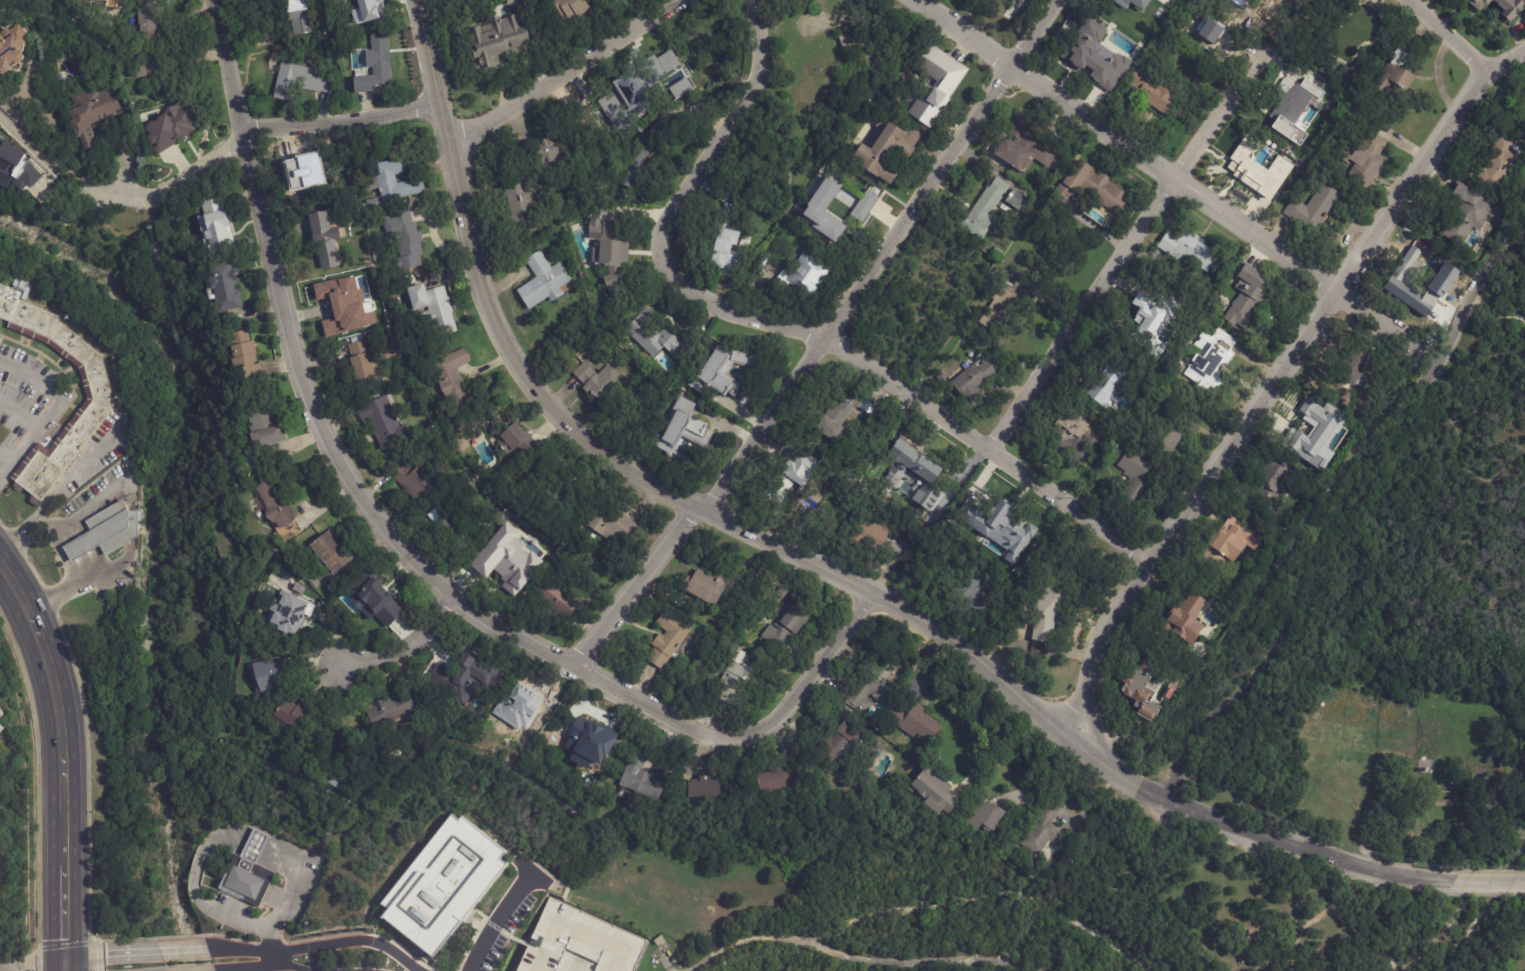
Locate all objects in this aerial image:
building: (343, 0)
building: (1268, 0)
building: (1478, 3)
building: (368, 6)
building: (1130, 6)
building: (1011, 8)
building: (1510, 8)
building: (571, 9)
building: (298, 16)
building: (147, 21)
road: (1447, 35)
building: (495, 43)
building: (852, 47)
building: (11, 49)
building: (1102, 50)
building: (380, 58)
building: (158, 65)
road: (568, 72)
building: (1396, 77)
building: (293, 81)
building: (935, 84)
building: (1154, 92)
building: (1524, 99)
building: (1288, 100)
building: (608, 102)
building: (90, 114)
road: (342, 121)
building: (173, 126)
road: (34, 130)
building: (1028, 146)
building: (888, 149)
building: (545, 151)
road: (35, 153)
building: (1367, 161)
building: (1501, 162)
road: (200, 165)
building: (634, 166)
building: (16, 168)
road: (1179, 173)
building: (1252, 175)
building: (304, 178)
building: (779, 179)
building: (392, 182)
building: (1097, 185)
road: (115, 189)
building: (1063, 193)
building: (524, 200)
building: (371, 205)
building: (863, 206)
building: (994, 206)
building: (1317, 207)
building: (797, 209)
building: (825, 209)
building: (1468, 214)
building: (849, 220)
building: (216, 231)
building: (404, 238)
building: (324, 240)
road: (1130, 244)
building: (723, 247)
building: (1188, 249)
building: (610, 252)
building: (998, 252)
building: (765, 259)
building: (804, 275)
building: (545, 281)
building: (223, 287)
building: (1417, 287)
building: (1250, 296)
building: (340, 303)
building: (1000, 308)
road: (1498, 308)
building: (432, 309)
building: (1151, 317)
building: (384, 320)
road: (785, 327)
building: (385, 334)
building: (655, 337)
road: (824, 340)
building: (241, 357)
building: (1212, 360)
building: (360, 361)
building: (1357, 364)
building: (720, 372)
building: (454, 378)
road: (1276, 378)
building: (597, 380)
building: (972, 381)
building: (96, 384)
building: (1111, 386)
parking lot: (29, 393)
road: (21, 411)
road: (49, 413)
building: (837, 418)
building: (383, 422)
building: (683, 428)
building: (263, 429)
building: (1314, 434)
building: (1072, 438)
building: (1167, 438)
building: (516, 440)
road: (1451, 453)
road: (615, 464)
building: (918, 472)
building: (792, 477)
building: (414, 478)
building: (1276, 480)
building: (899, 481)
building: (850, 483)
building: (1141, 484)
road: (61, 494)
building: (558, 500)
building: (275, 504)
building: (258, 508)
road: (1328, 511)
road: (79, 517)
road: (1486, 518)
building: (456, 525)
building: (614, 527)
building: (998, 528)
building: (108, 531)
gas station: (108, 531)
building: (289, 531)
road: (72, 532)
building: (870, 536)
building: (1230, 545)
road: (80, 546)
road: (404, 548)
building: (327, 553)
building: (510, 566)
road: (103, 568)
building: (706, 584)
building: (331, 588)
building: (967, 588)
building: (781, 592)
road: (61, 594)
building: (371, 597)
building: (555, 599)
building: (286, 611)
building: (1048, 615)
building: (1186, 616)
building: (1008, 617)
building: (787, 624)
building: (666, 639)
road: (408, 645)
building: (270, 674)
building: (446, 677)
building: (736, 679)
building: (871, 692)
building: (1143, 694)
building: (1171, 694)
building: (392, 713)
building: (516, 713)
building: (1, 714)
park: (1352, 714)
building: (294, 715)
building: (1, 720)
parking garage: (1, 720)
building: (918, 723)
building: (1, 729)
road: (1090, 731)
road: (992, 739)
building: (588, 741)
building: (842, 743)
building: (1503, 750)
road: (62, 759)
building: (1428, 760)
building: (641, 777)
building: (777, 778)
building: (337, 783)
building: (710, 786)
building: (934, 790)
building: (1445, 804)
building: (986, 814)
building: (1042, 828)
road: (1246, 831)
road: (255, 844)
road: (283, 855)
road: (199, 857)
building: (1036, 866)
building: (248, 871)
road: (1489, 884)
building: (442, 885)
road: (282, 910)
road: (498, 917)
road: (240, 922)
road: (1443, 939)
traffic signals: (64, 940)
building: (580, 942)
parking garage: (580, 942)
building: (660, 942)
road: (316, 946)
road: (183, 950)
road: (856, 951)
road: (110, 953)
traffic signals: (106, 954)
road: (275, 959)
road: (262, 967)
road: (31, 969)
traffic signals: (32, 969)
road: (64, 969)
road: (68, 969)
road: (251, 969)
road: (206, 970)

